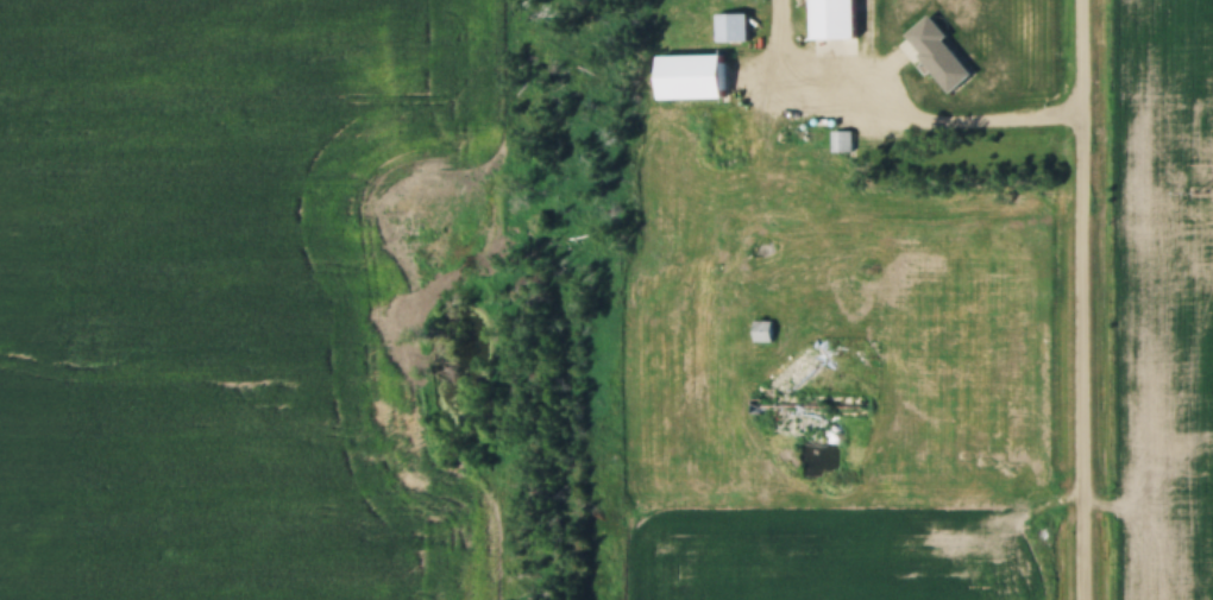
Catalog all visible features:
building: (834, 19)
building: (731, 29)
building: (691, 78)
building: (901, 91)
road: (894, 112)
building: (842, 141)
power tower: (1199, 196)
road: (1087, 299)
building: (762, 331)

